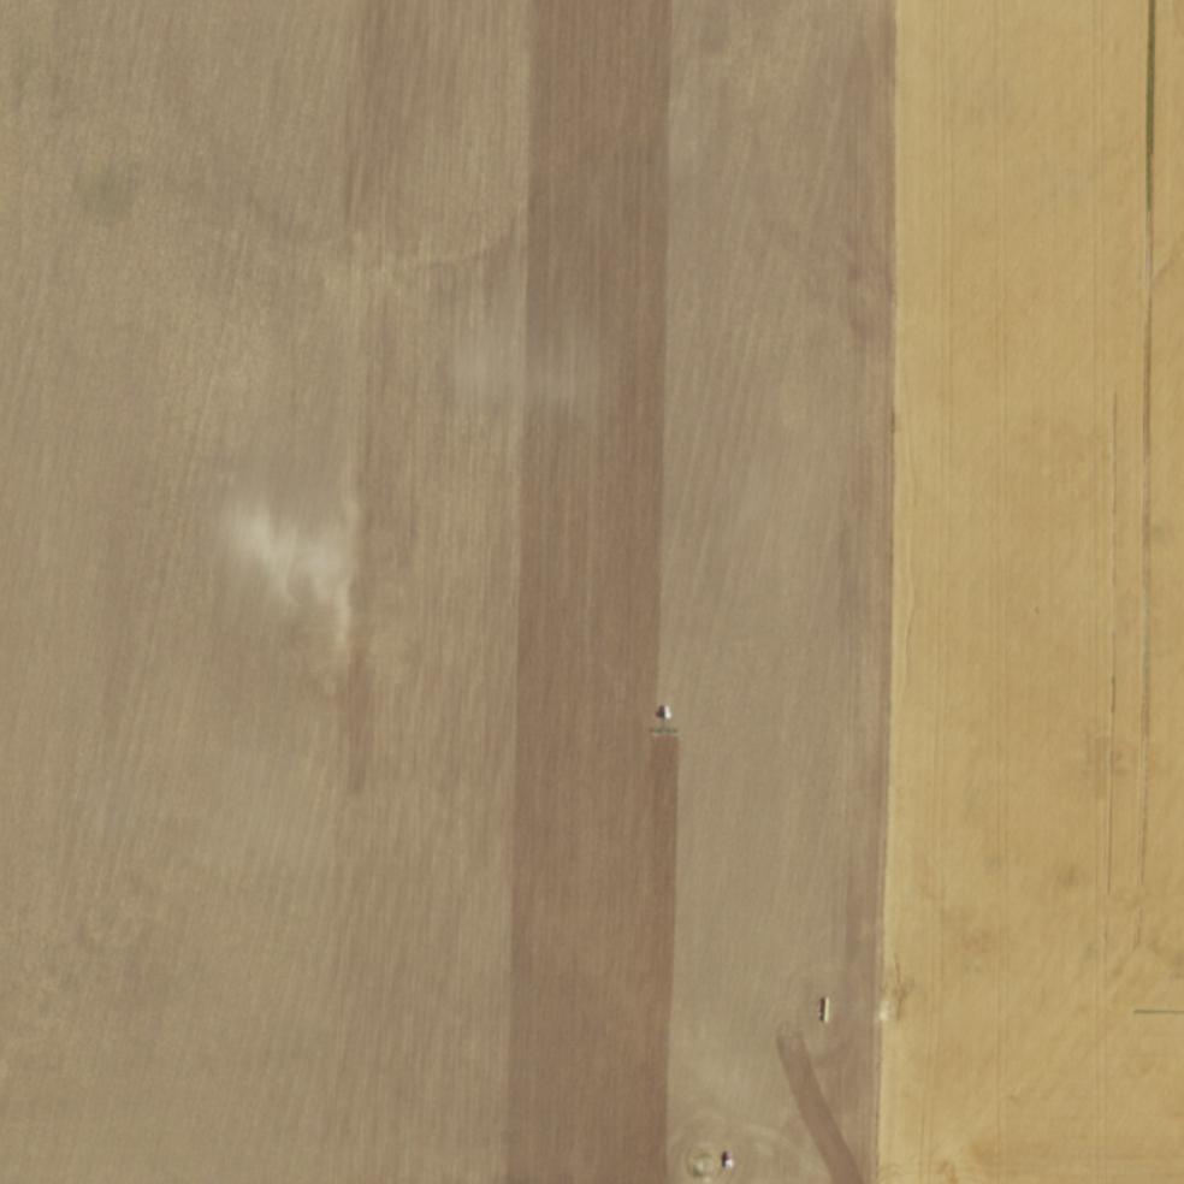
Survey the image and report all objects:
crop: (592, 592)

